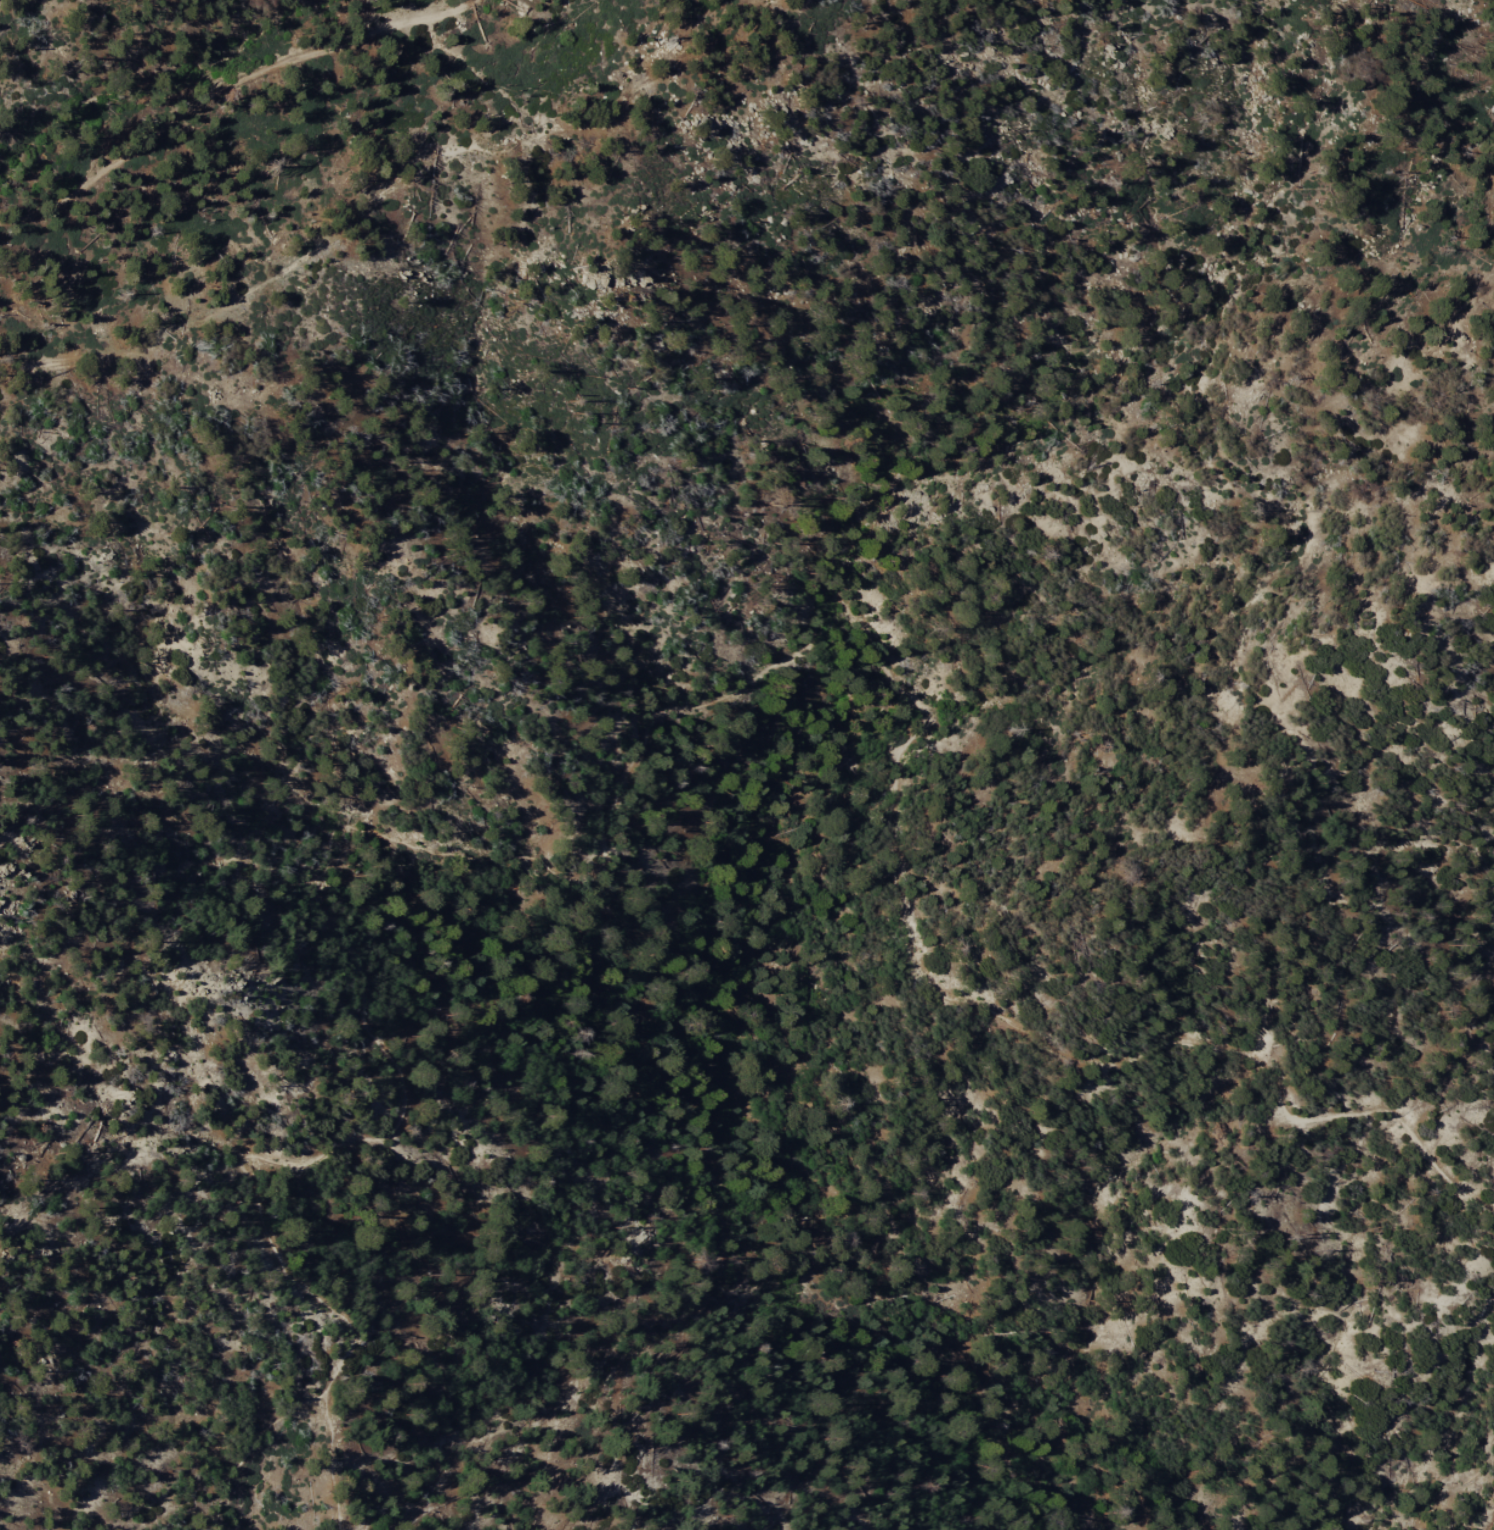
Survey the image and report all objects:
road: (225, 86)
road: (649, 719)

